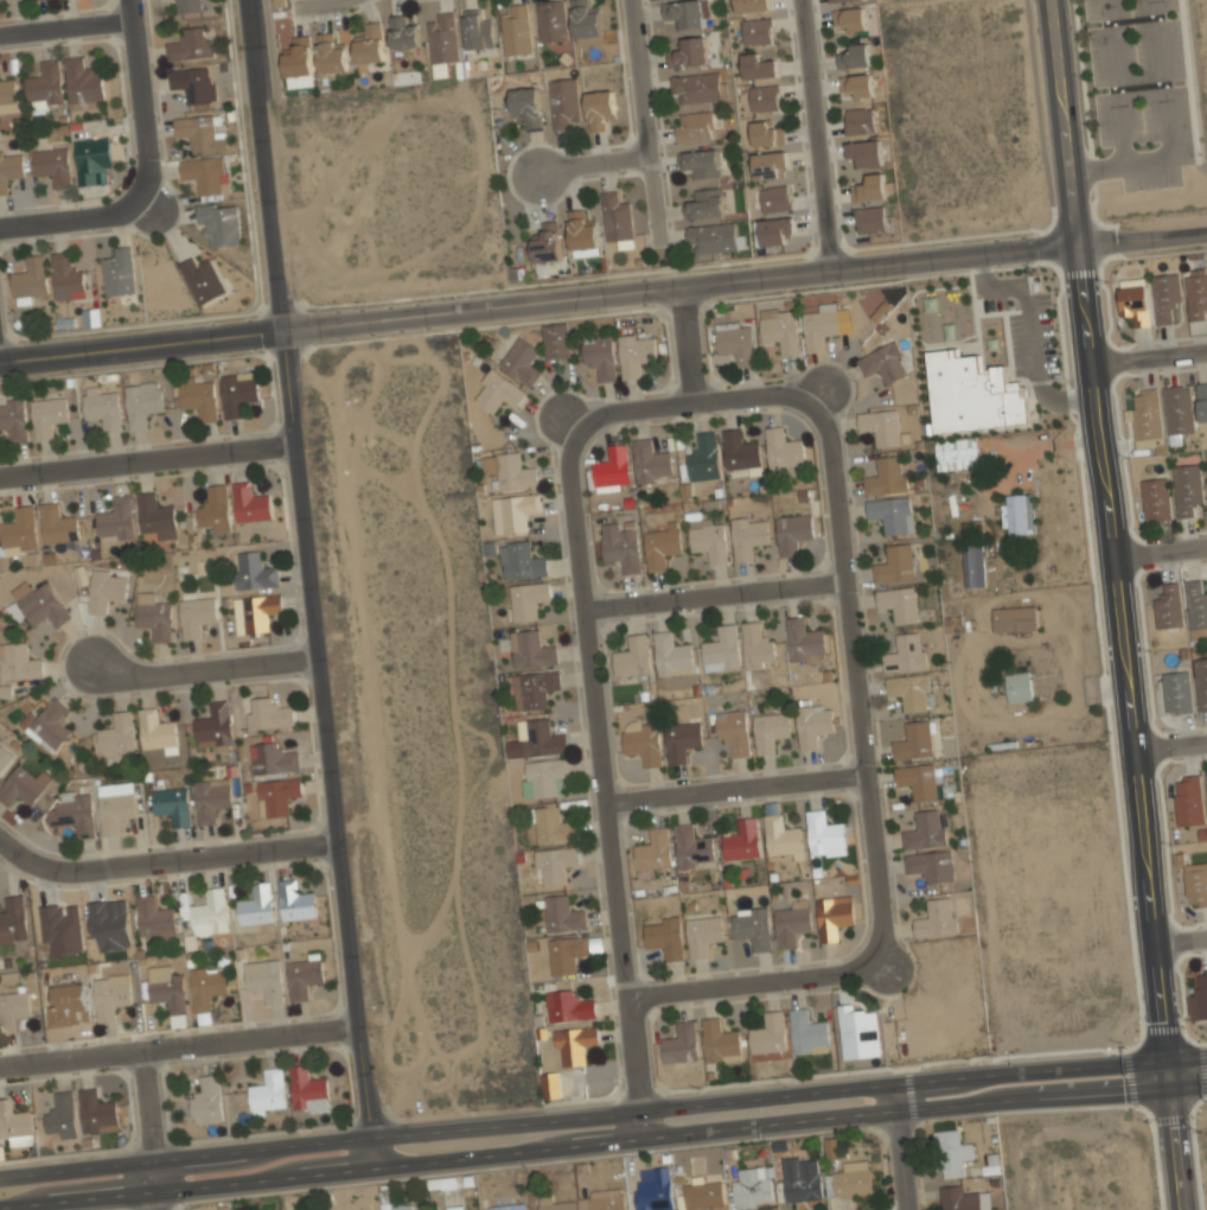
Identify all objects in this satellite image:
building: (835, 0)
road: (319, 2)
building: (751, 5)
building: (187, 6)
building: (685, 12)
building: (850, 18)
building: (551, 20)
building: (586, 23)
road: (66, 28)
building: (516, 28)
building: (478, 30)
building: (755, 30)
building: (403, 32)
building: (441, 42)
building: (190, 45)
building: (370, 45)
building: (690, 51)
building: (331, 52)
building: (854, 55)
building: (299, 62)
building: (756, 65)
building: (83, 82)
building: (45, 83)
building: (856, 83)
building: (193, 84)
building: (698, 87)
road: (1188, 87)
parking lot: (1142, 88)
building: (7, 91)
park: (1145, 95)
building: (764, 96)
building: (564, 102)
building: (526, 103)
road: (138, 104)
building: (599, 108)
road: (646, 119)
building: (858, 119)
building: (695, 125)
building: (765, 133)
building: (199, 134)
road: (816, 134)
building: (866, 151)
building: (90, 160)
building: (701, 161)
road: (1148, 163)
building: (769, 164)
road: (595, 165)
building: (51, 166)
road: (1097, 167)
building: (9, 170)
building: (204, 176)
building: (870, 186)
building: (774, 197)
building: (705, 203)
road: (72, 218)
building: (618, 218)
building: (870, 218)
building: (219, 225)
building: (773, 229)
building: (582, 234)
building: (715, 238)
building: (547, 242)
building: (119, 273)
building: (31, 279)
building: (68, 279)
building: (202, 281)
road: (603, 293)
building: (1196, 293)
building: (1166, 295)
building: (1133, 302)
building: (820, 325)
building: (779, 330)
road: (695, 338)
building: (557, 340)
building: (735, 340)
building: (634, 352)
building: (601, 355)
road: (1148, 358)
building: (521, 361)
building: (883, 363)
building: (238, 391)
building: (497, 391)
road: (705, 391)
building: (971, 393)
building: (198, 399)
building: (1202, 401)
building: (142, 403)
building: (102, 408)
building: (1179, 410)
building: (1147, 414)
building: (49, 415)
building: (13, 420)
building: (882, 427)
building: (783, 446)
building: (741, 451)
building: (956, 452)
road: (143, 456)
building: (703, 456)
building: (651, 459)
building: (612, 467)
building: (1206, 467)
building: (510, 472)
building: (885, 476)
building: (1187, 488)
building: (1156, 497)
building: (250, 504)
building: (216, 509)
building: (513, 511)
building: (1017, 512)
building: (154, 514)
building: (890, 514)
building: (116, 518)
building: (58, 524)
building: (19, 531)
building: (792, 531)
building: (748, 535)
building: (708, 537)
building: (621, 544)
building: (662, 547)
road: (1160, 552)
building: (522, 560)
building: (894, 563)
building: (973, 565)
building: (253, 571)
road: (307, 584)
road: (721, 585)
building: (106, 588)
building: (529, 599)
building: (898, 603)
building: (40, 604)
road: (1118, 604)
building: (1195, 604)
building: (1168, 605)
building: (260, 611)
building: (197, 616)
building: (154, 617)
building: (1015, 618)
building: (804, 637)
building: (758, 645)
building: (532, 648)
building: (721, 648)
building: (671, 651)
building: (905, 651)
building: (633, 655)
building: (18, 662)
road: (204, 662)
road: (862, 662)
building: (1201, 683)
building: (1018, 684)
building: (535, 688)
building: (909, 690)
building: (5, 692)
building: (1176, 692)
building: (269, 713)
building: (813, 724)
building: (50, 725)
building: (213, 725)
building: (155, 731)
building: (733, 731)
building: (771, 731)
building: (117, 735)
building: (539, 737)
building: (682, 740)
building: (913, 740)
building: (643, 741)
road: (1170, 745)
building: (273, 758)
building: (4, 760)
road: (609, 772)
building: (543, 777)
road: (741, 777)
building: (1206, 778)
building: (917, 781)
building: (24, 786)
building: (277, 795)
building: (211, 798)
building: (1188, 802)
building: (172, 805)
building: (115, 807)
building: (74, 814)
building: (553, 823)
building: (924, 829)
building: (824, 832)
building: (781, 836)
building: (741, 840)
building: (692, 845)
road: (162, 849)
building: (654, 849)
building: (556, 864)
building: (930, 865)
building: (1195, 884)
building: (295, 902)
building: (256, 906)
building: (563, 913)
building: (209, 915)
building: (834, 916)
building: (937, 917)
building: (13, 918)
building: (154, 918)
building: (791, 922)
building: (110, 924)
building: (752, 926)
building: (62, 929)
building: (703, 934)
building: (664, 936)
road: (1182, 936)
building: (568, 953)
road: (760, 973)
building: (304, 977)
building: (264, 981)
building: (206, 988)
building: (167, 993)
building: (110, 996)
building: (1199, 998)
building: (569, 1006)
building: (12, 1011)
building: (807, 1032)
building: (767, 1033)
building: (858, 1033)
building: (721, 1040)
building: (681, 1042)
building: (575, 1044)
road: (178, 1045)
traffic signals: (1168, 1058)
building: (551, 1085)
traffic signals: (1166, 1089)
building: (307, 1090)
building: (268, 1091)
building: (207, 1100)
road: (146, 1106)
building: (96, 1113)
road: (602, 1113)
building: (62, 1116)
building: (12, 1126)
road: (602, 1144)
building: (832, 1146)
road: (898, 1147)
building: (953, 1152)
building: (798, 1176)
building: (852, 1179)
road: (154, 1185)
building: (753, 1186)
building: (701, 1195)
building: (654, 1197)
building: (963, 1198)
building: (602, 1199)
building: (557, 1204)
building: (401, 1206)
building: (510, 1206)
building: (453, 1208)

